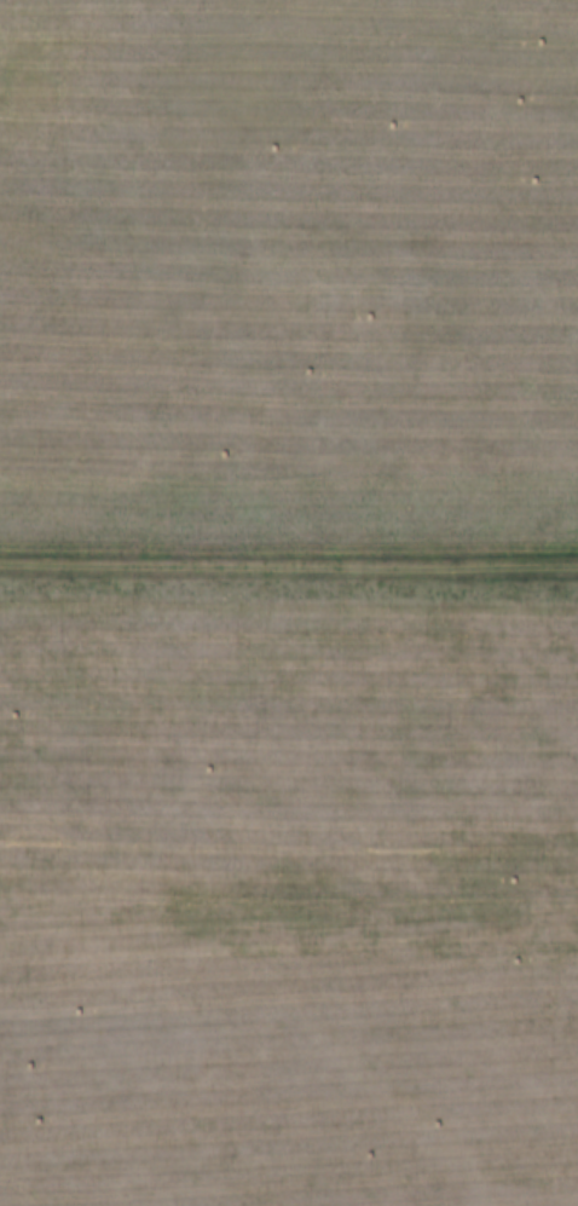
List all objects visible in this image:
road: (289, 565)

